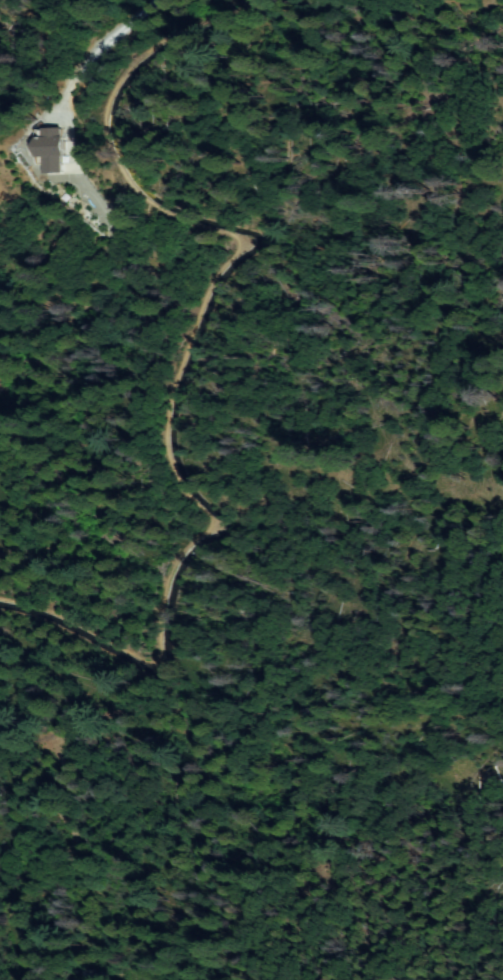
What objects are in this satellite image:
building: (51, 147)

